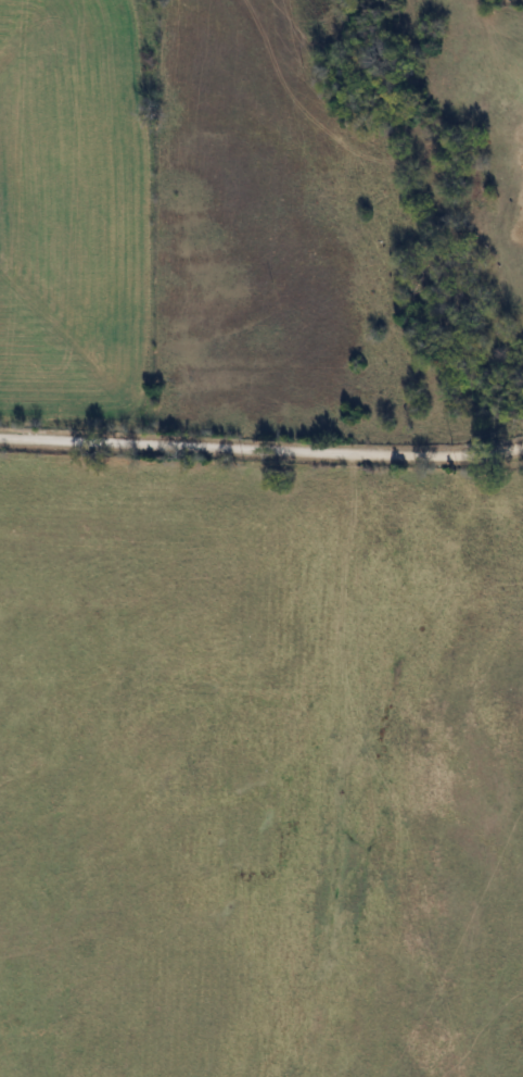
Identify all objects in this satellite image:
road: (513, 448)
road: (252, 449)

